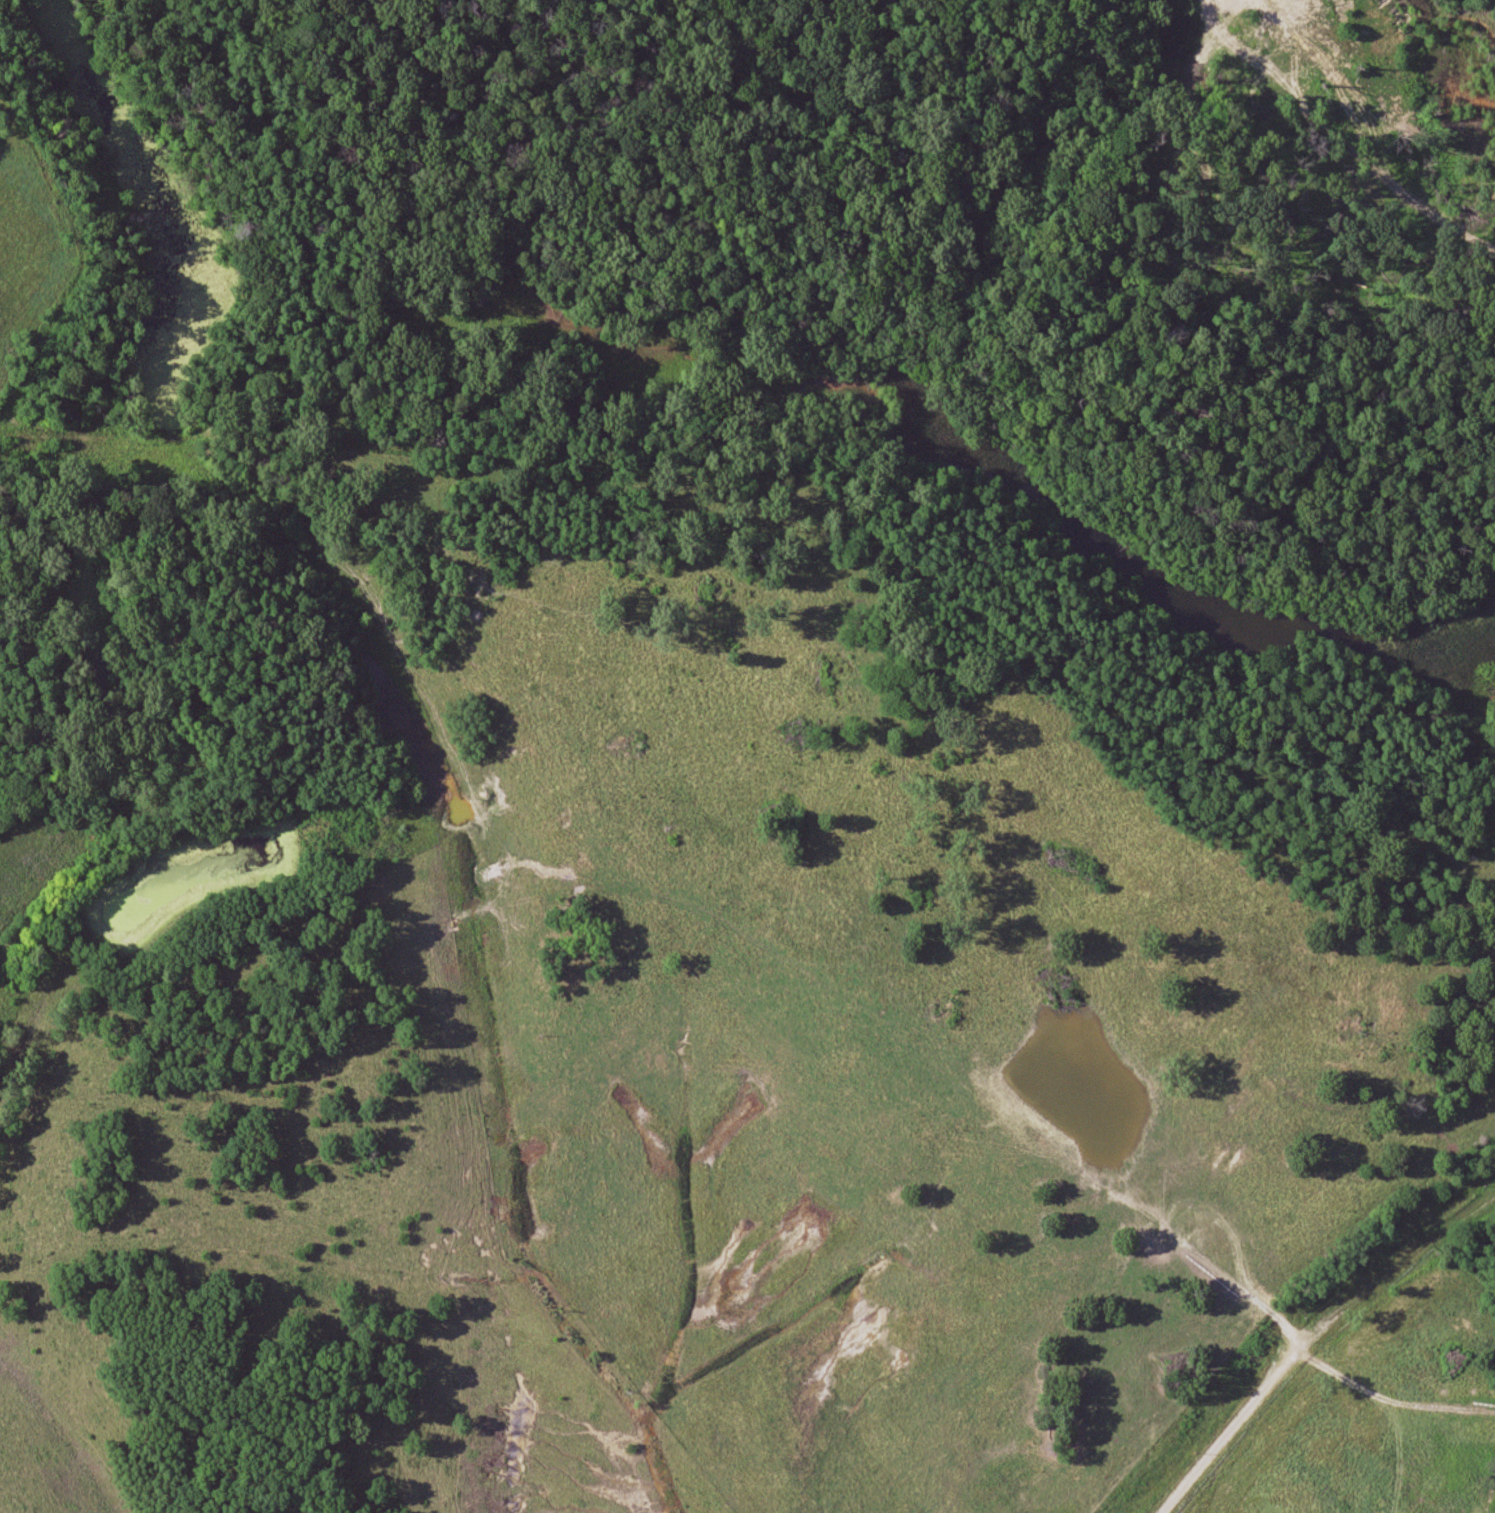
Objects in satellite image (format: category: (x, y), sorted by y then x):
road: (1329, 1360)

